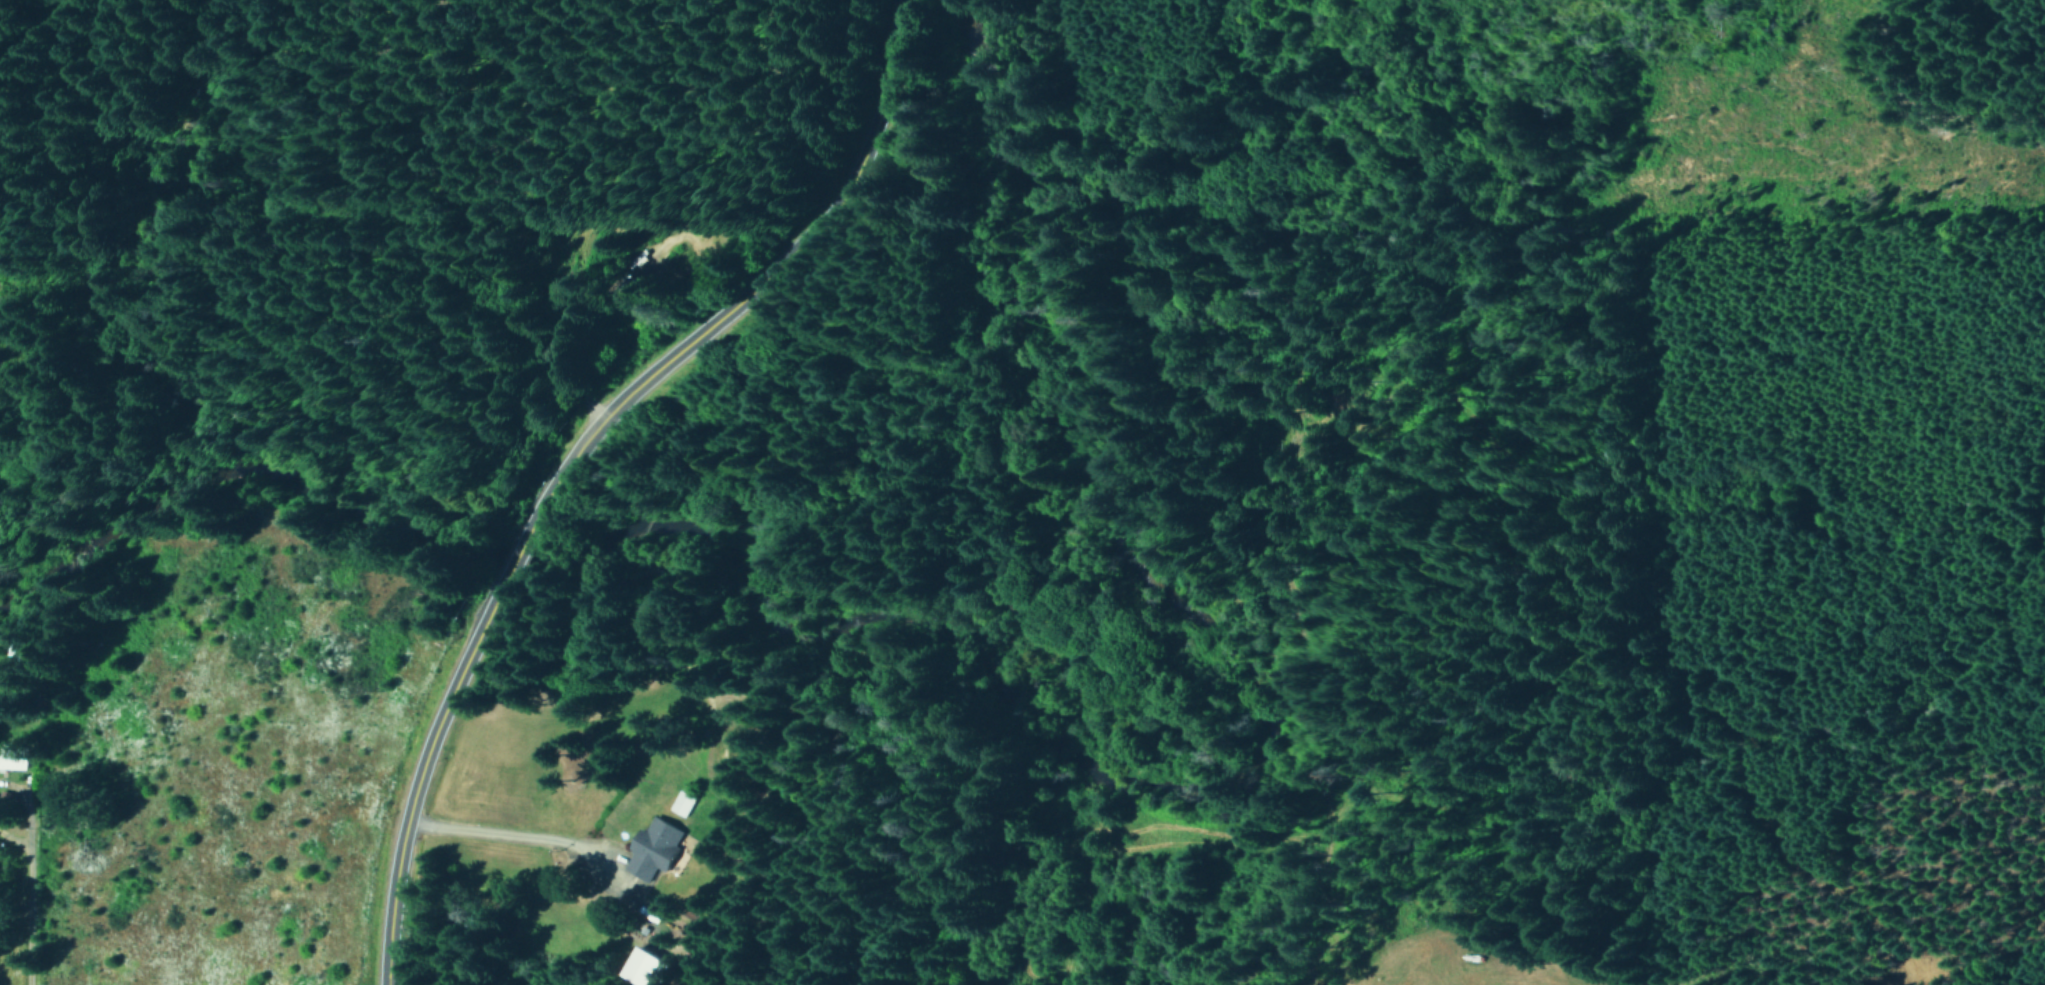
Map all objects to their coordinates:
road: (562, 451)
building: (20, 651)
river: (1003, 695)
building: (13, 757)
building: (682, 802)
building: (656, 847)
road: (21, 877)

